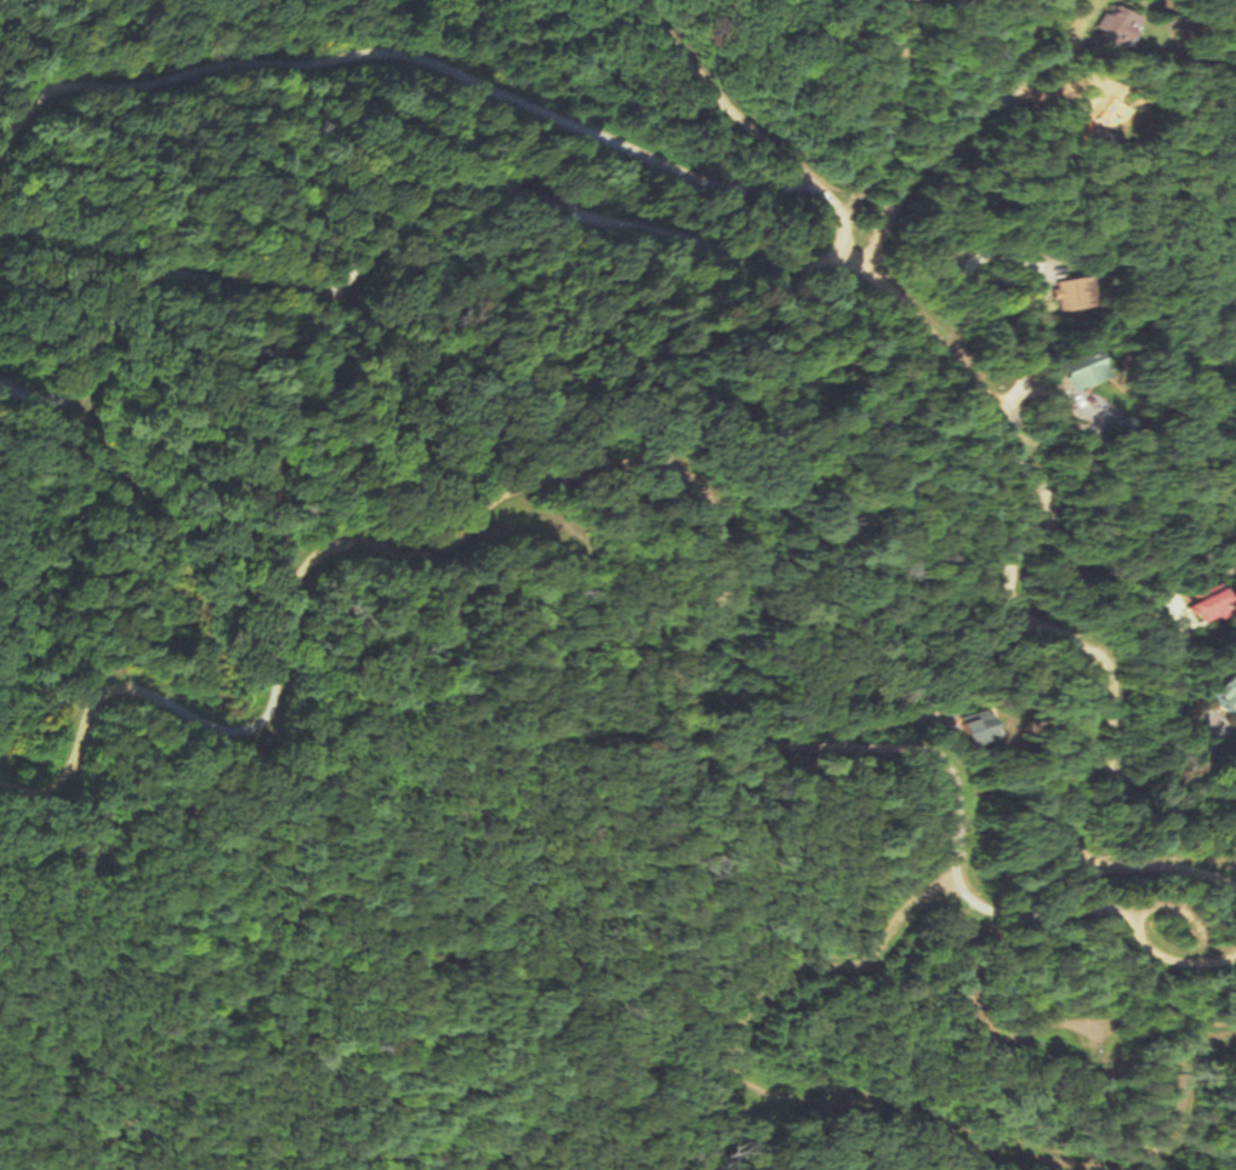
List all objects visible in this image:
building: (1110, 28)
road: (426, 45)
road: (929, 126)
road: (705, 251)
building: (1069, 291)
road: (112, 299)
building: (1080, 371)
road: (1006, 428)
road: (717, 707)

